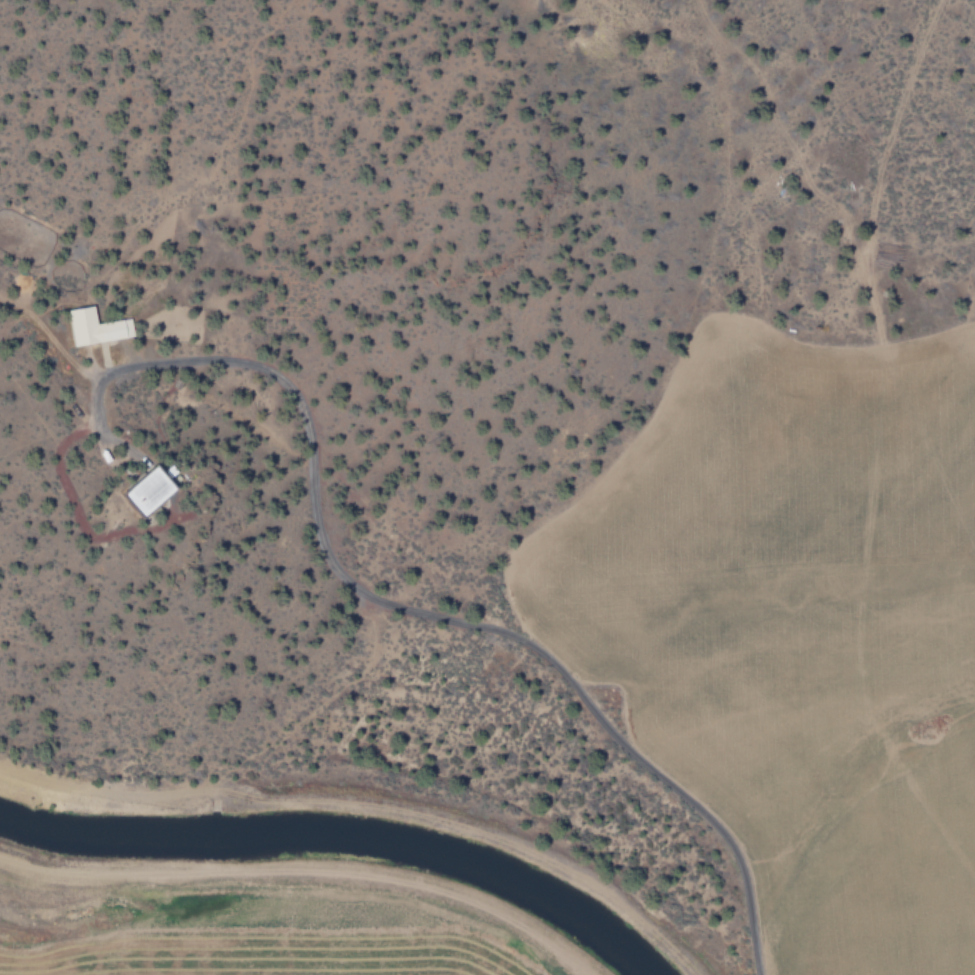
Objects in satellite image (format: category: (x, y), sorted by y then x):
building: (98, 327)
building: (154, 489)
crop: (627, 724)
road: (296, 880)

